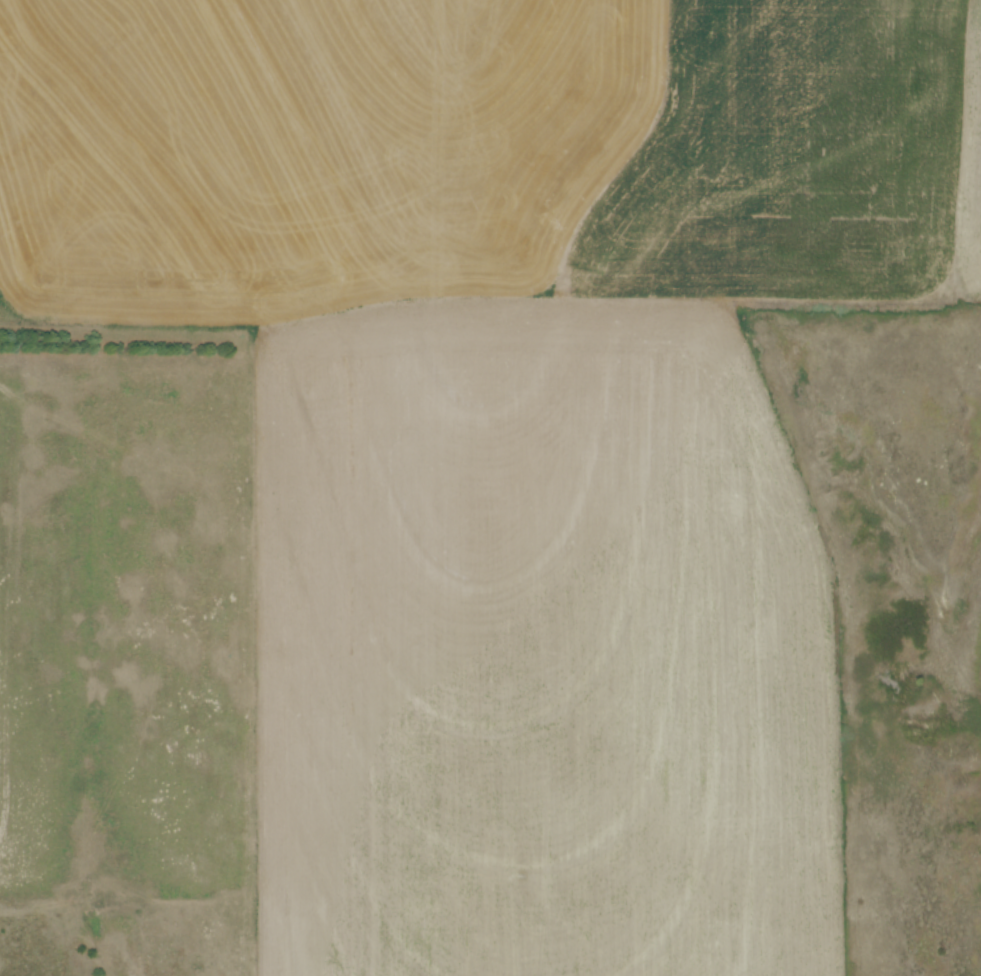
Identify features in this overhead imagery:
crop: (309, 146)

